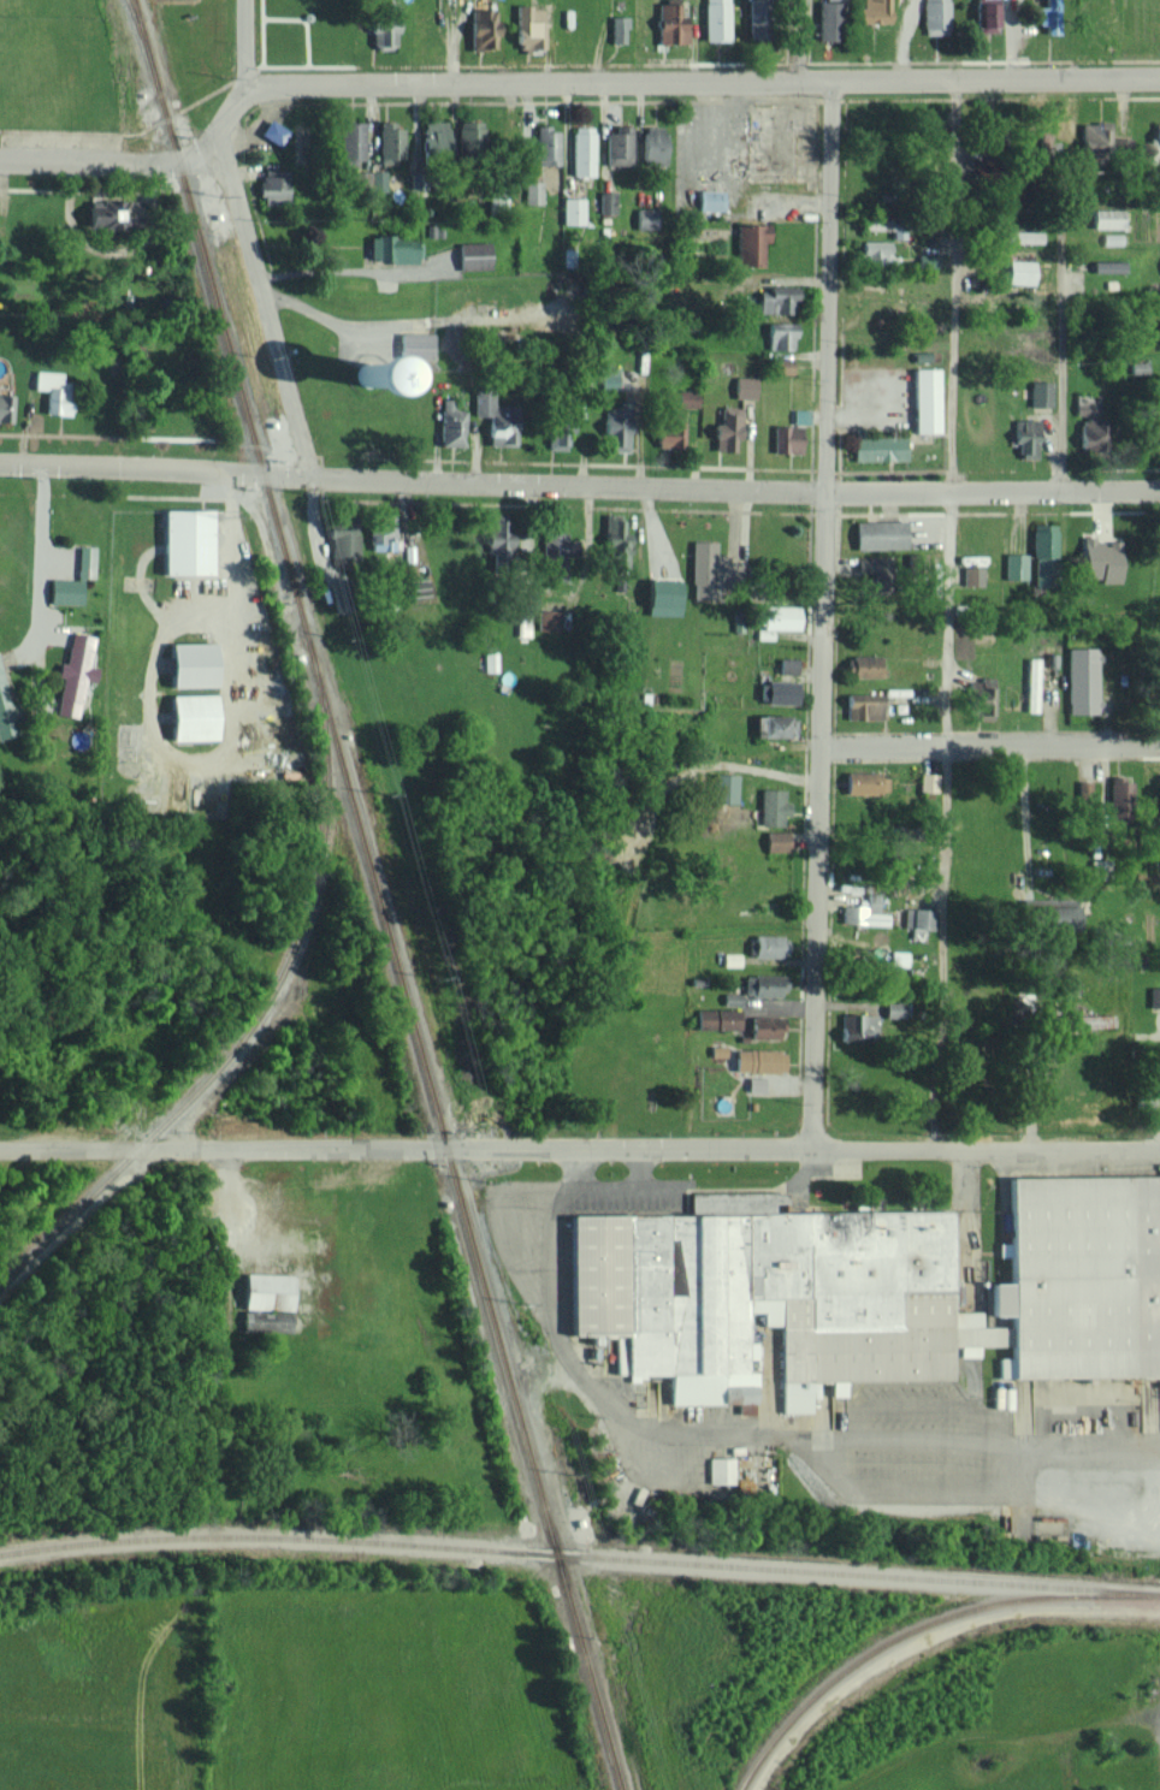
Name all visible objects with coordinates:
building: (871, 11)
building: (987, 16)
building: (935, 17)
building: (754, 18)
building: (716, 19)
building: (828, 19)
building: (383, 23)
building: (669, 23)
building: (528, 26)
building: (481, 28)
building: (617, 28)
road: (798, 40)
railway: (143, 41)
road: (242, 42)
road: (557, 81)
building: (469, 130)
building: (272, 131)
building: (433, 135)
building: (1094, 136)
building: (1043, 140)
building: (349, 141)
building: (1155, 141)
building: (389, 142)
building: (545, 144)
building: (652, 144)
building: (617, 146)
building: (581, 149)
building: (360, 177)
building: (377, 179)
building: (273, 189)
building: (532, 191)
building: (709, 198)
building: (606, 201)
building: (572, 209)
building: (111, 212)
building: (645, 218)
building: (1106, 218)
building: (1019, 236)
building: (1111, 238)
building: (750, 243)
building: (391, 248)
building: (875, 251)
building: (473, 254)
building: (1107, 265)
building: (1019, 271)
building: (775, 298)
road: (266, 308)
building: (780, 334)
building: (415, 344)
road: (1059, 348)
building: (782, 364)
water tower: (343, 368)
building: (356, 369)
building: (609, 377)
building: (744, 386)
building: (52, 391)
building: (1040, 392)
building: (686, 397)
building: (924, 402)
building: (5, 407)
building: (800, 415)
building: (493, 419)
building: (450, 422)
building: (1091, 423)
building: (558, 426)
building: (726, 428)
building: (616, 429)
building: (668, 433)
building: (1025, 435)
building: (786, 438)
building: (877, 447)
building: (1159, 454)
road: (579, 482)
road: (25, 485)
road: (41, 486)
building: (380, 532)
building: (497, 532)
building: (880, 534)
building: (342, 538)
building: (185, 540)
building: (552, 541)
building: (615, 543)
building: (1043, 555)
building: (1100, 559)
building: (84, 561)
building: (1016, 565)
building: (407, 570)
building: (705, 570)
road: (39, 574)
building: (971, 575)
building: (64, 591)
building: (662, 592)
road: (821, 615)
building: (780, 616)
road: (951, 616)
building: (545, 618)
building: (522, 626)
building: (190, 664)
building: (787, 665)
building: (862, 665)
building: (73, 674)
building: (1081, 680)
building: (1031, 684)
building: (779, 690)
building: (980, 695)
road: (148, 703)
building: (863, 706)
building: (5, 712)
building: (190, 716)
building: (774, 725)
road: (988, 743)
building: (927, 781)
building: (865, 782)
building: (723, 787)
building: (1083, 790)
building: (1159, 793)
building: (1118, 794)
building: (771, 806)
road: (1023, 811)
building: (776, 841)
railway: (379, 895)
building: (864, 912)
building: (1048, 913)
building: (917, 920)
building: (769, 946)
building: (898, 956)
building: (730, 959)
building: (763, 984)
building: (1154, 996)
building: (893, 1009)
railway: (260, 1016)
building: (716, 1018)
building: (765, 1026)
building: (857, 1029)
road: (1155, 1036)
building: (758, 1060)
building: (754, 1083)
road: (223, 1150)
road: (803, 1150)
building: (865, 1287)
building: (266, 1302)
road: (223, 1305)
building: (720, 1470)
railway: (579, 1557)
railway: (893, 1637)
park: (102, 1693)

